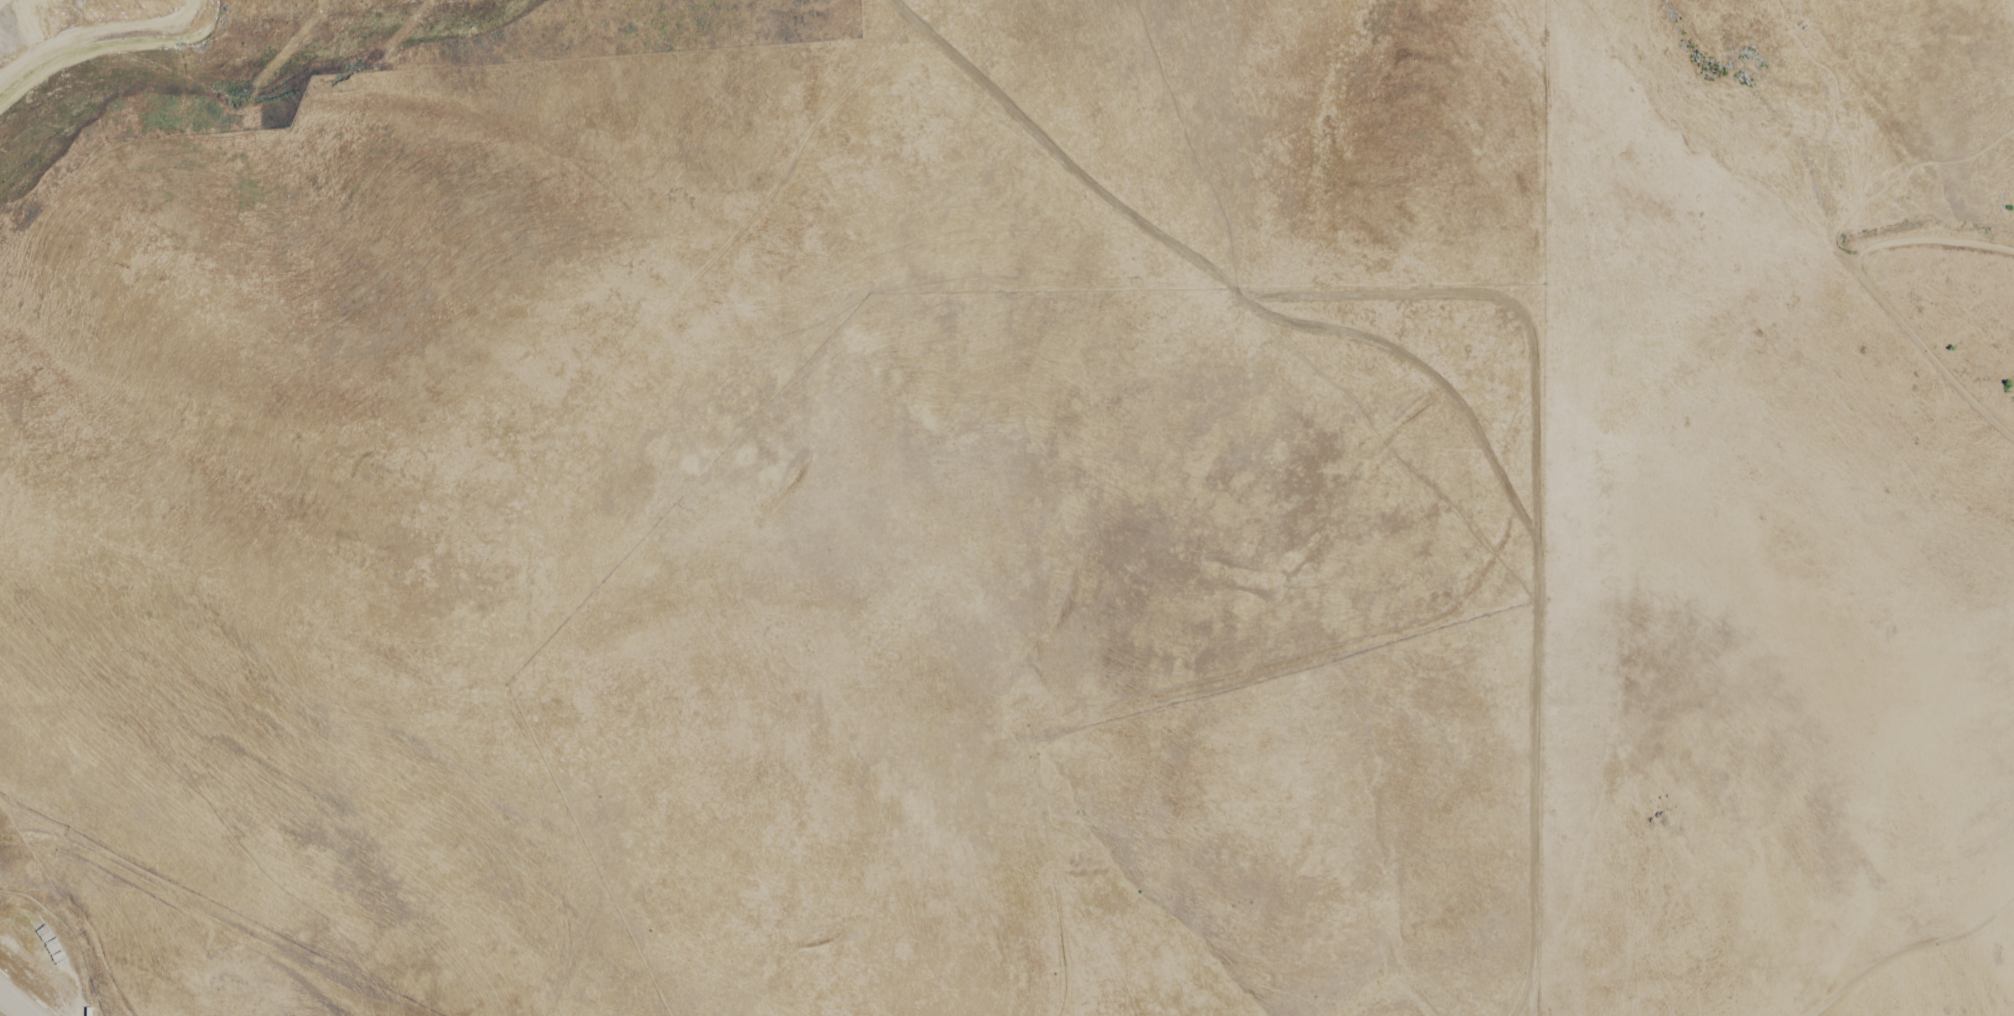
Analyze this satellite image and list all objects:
landfill: (198, 56)
road: (1834, 96)
road: (1902, 177)
road: (1871, 293)
road: (1908, 949)
landfill: (36, 964)

